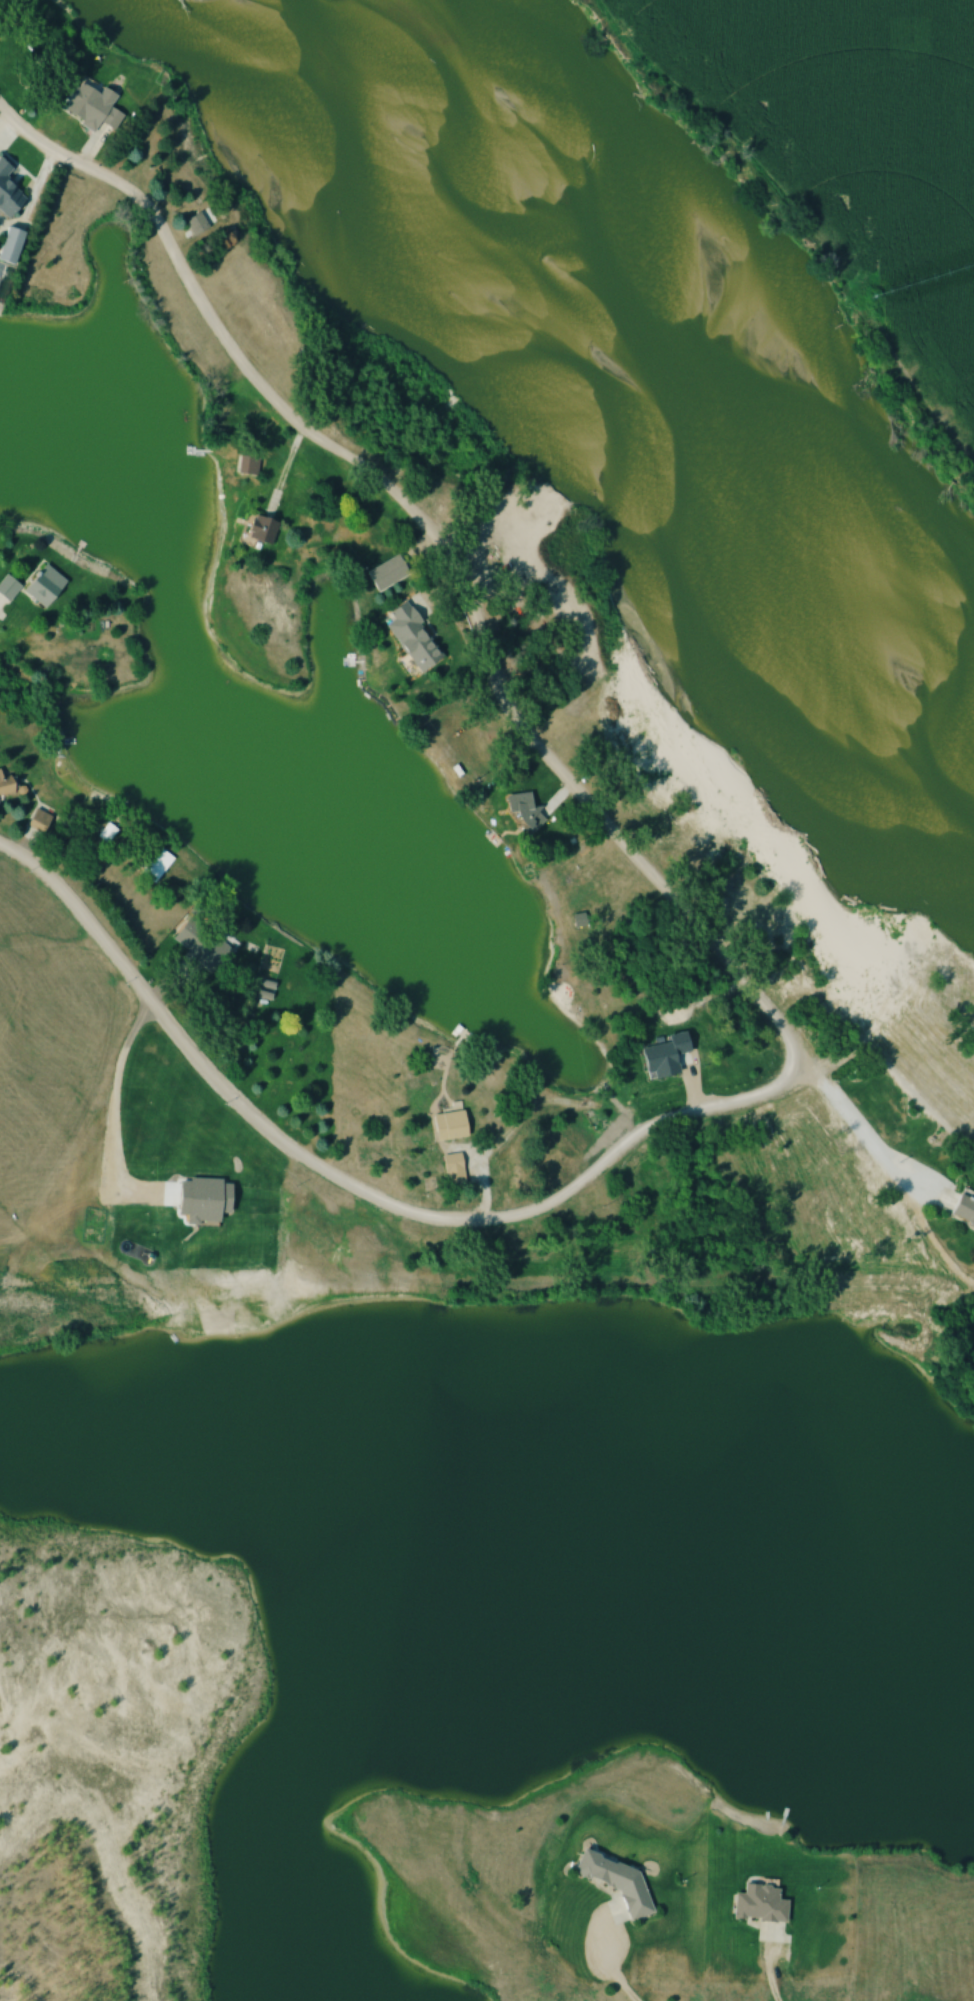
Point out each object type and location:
building: (89, 107)
road: (9, 130)
building: (7, 193)
building: (194, 224)
building: (8, 245)
river: (705, 312)
building: (246, 466)
building: (259, 531)
building: (33, 585)
road: (477, 632)
building: (410, 636)
building: (4, 787)
building: (522, 811)
building: (34, 825)
building: (104, 834)
building: (156, 865)
building: (578, 920)
building: (212, 956)
road: (533, 1105)
building: (447, 1125)
building: (452, 1171)
road: (356, 1188)
building: (962, 1210)
building: (614, 1881)
building: (757, 1904)
road: (769, 1983)
road: (624, 1988)

